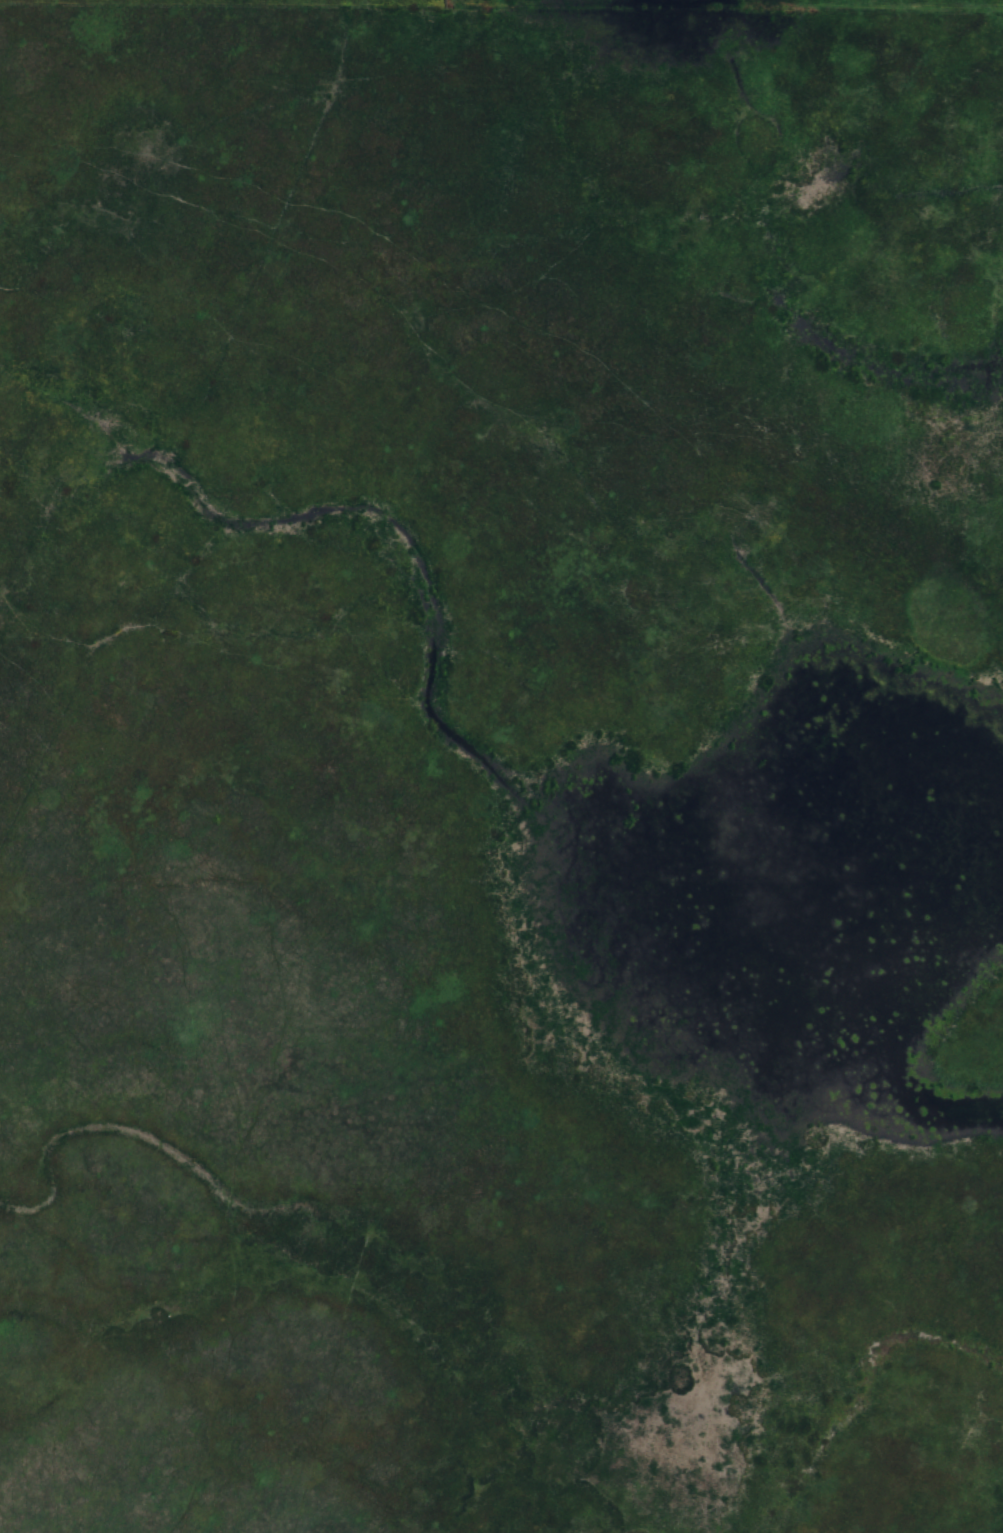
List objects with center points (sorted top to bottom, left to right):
crop: (501, 766)

